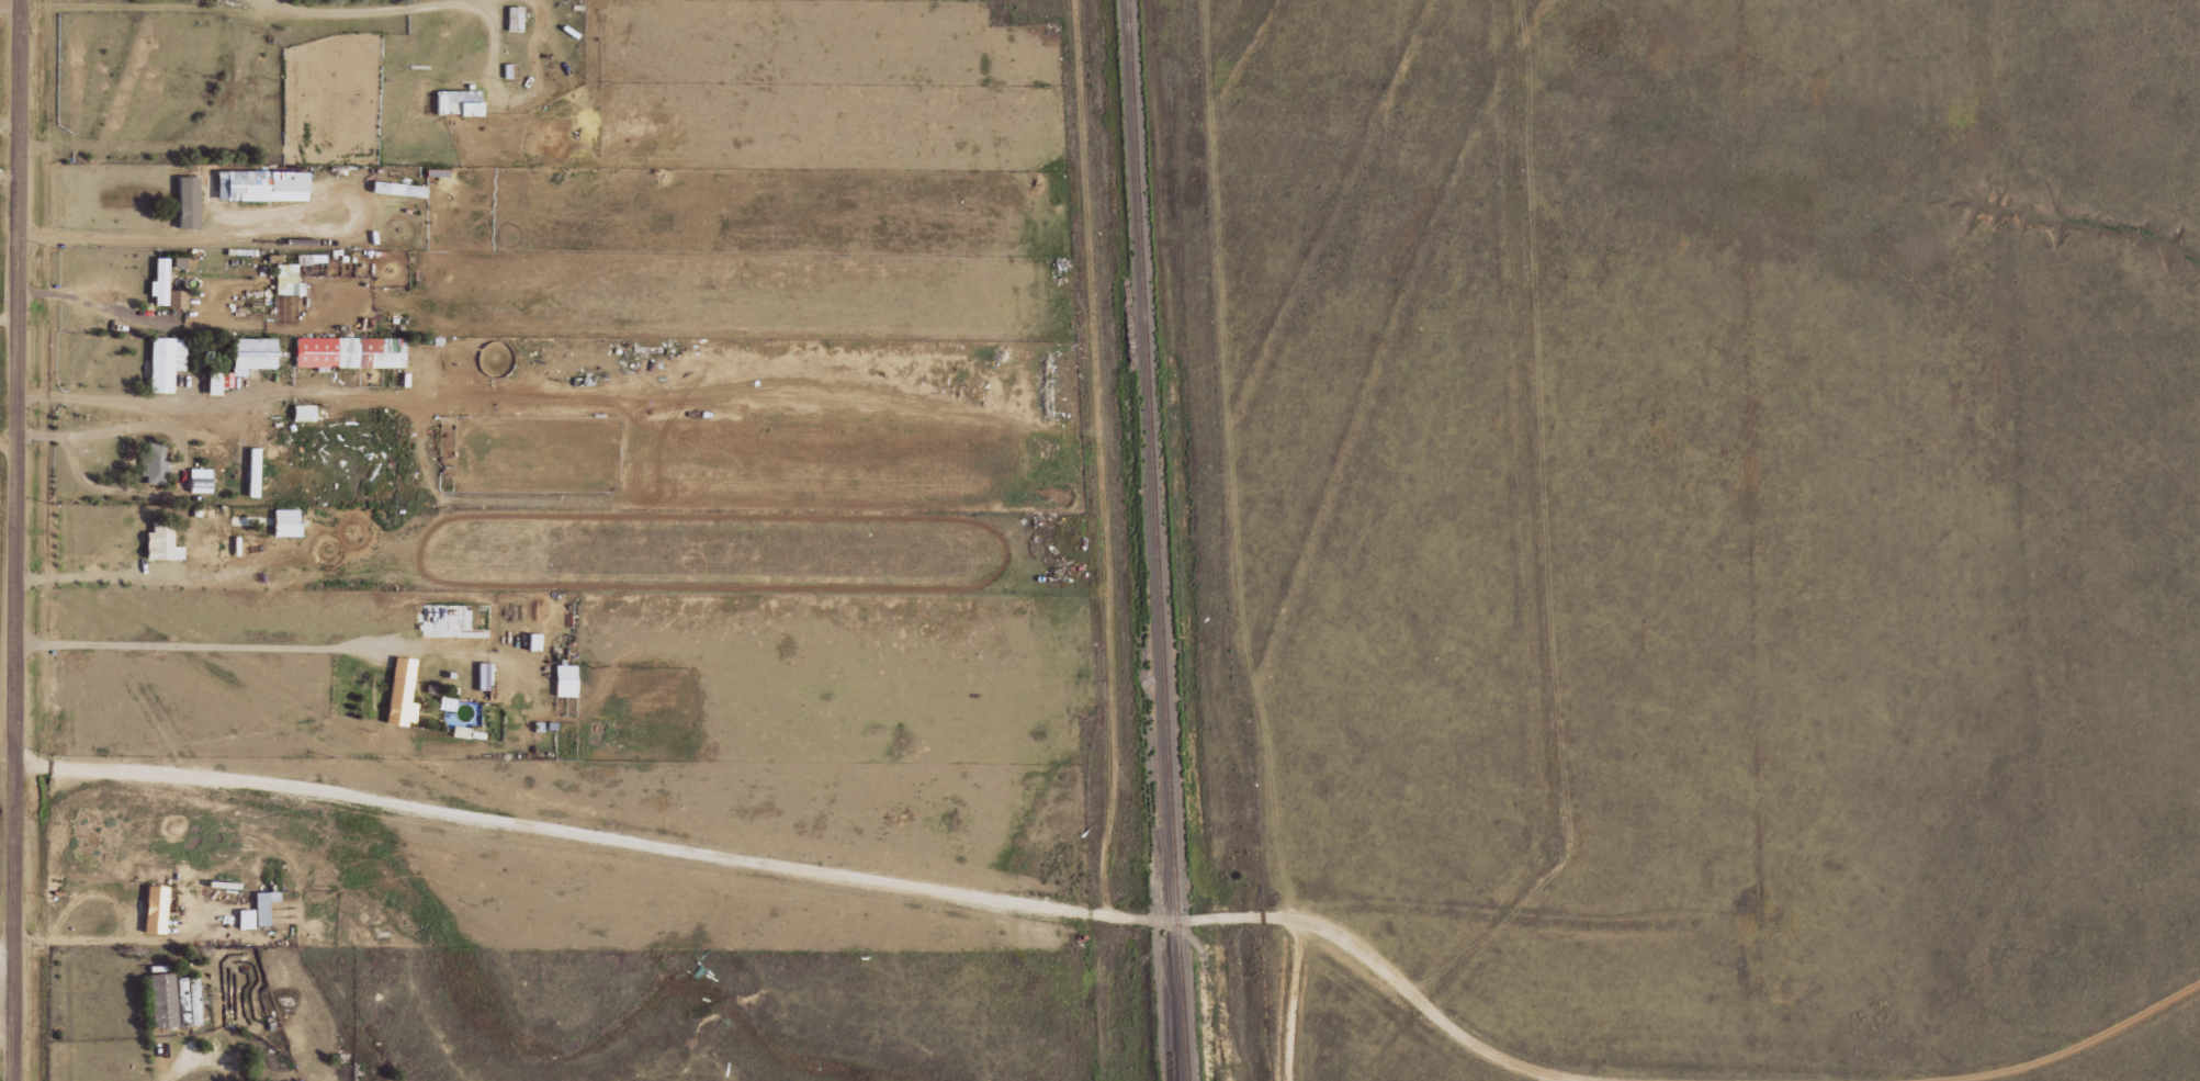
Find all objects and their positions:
building: (511, 19)
building: (456, 102)
building: (259, 185)
building: (184, 203)
building: (286, 280)
building: (157, 282)
building: (174, 300)
building: (348, 352)
building: (249, 354)
building: (162, 362)
building: (302, 413)
building: (153, 464)
building: (251, 472)
building: (283, 522)
road: (16, 540)
railway: (1157, 540)
building: (159, 542)
building: (482, 676)
building: (563, 680)
building: (396, 703)
building: (151, 909)
building: (253, 912)
road: (7, 958)
building: (159, 1000)
building: (185, 1000)

